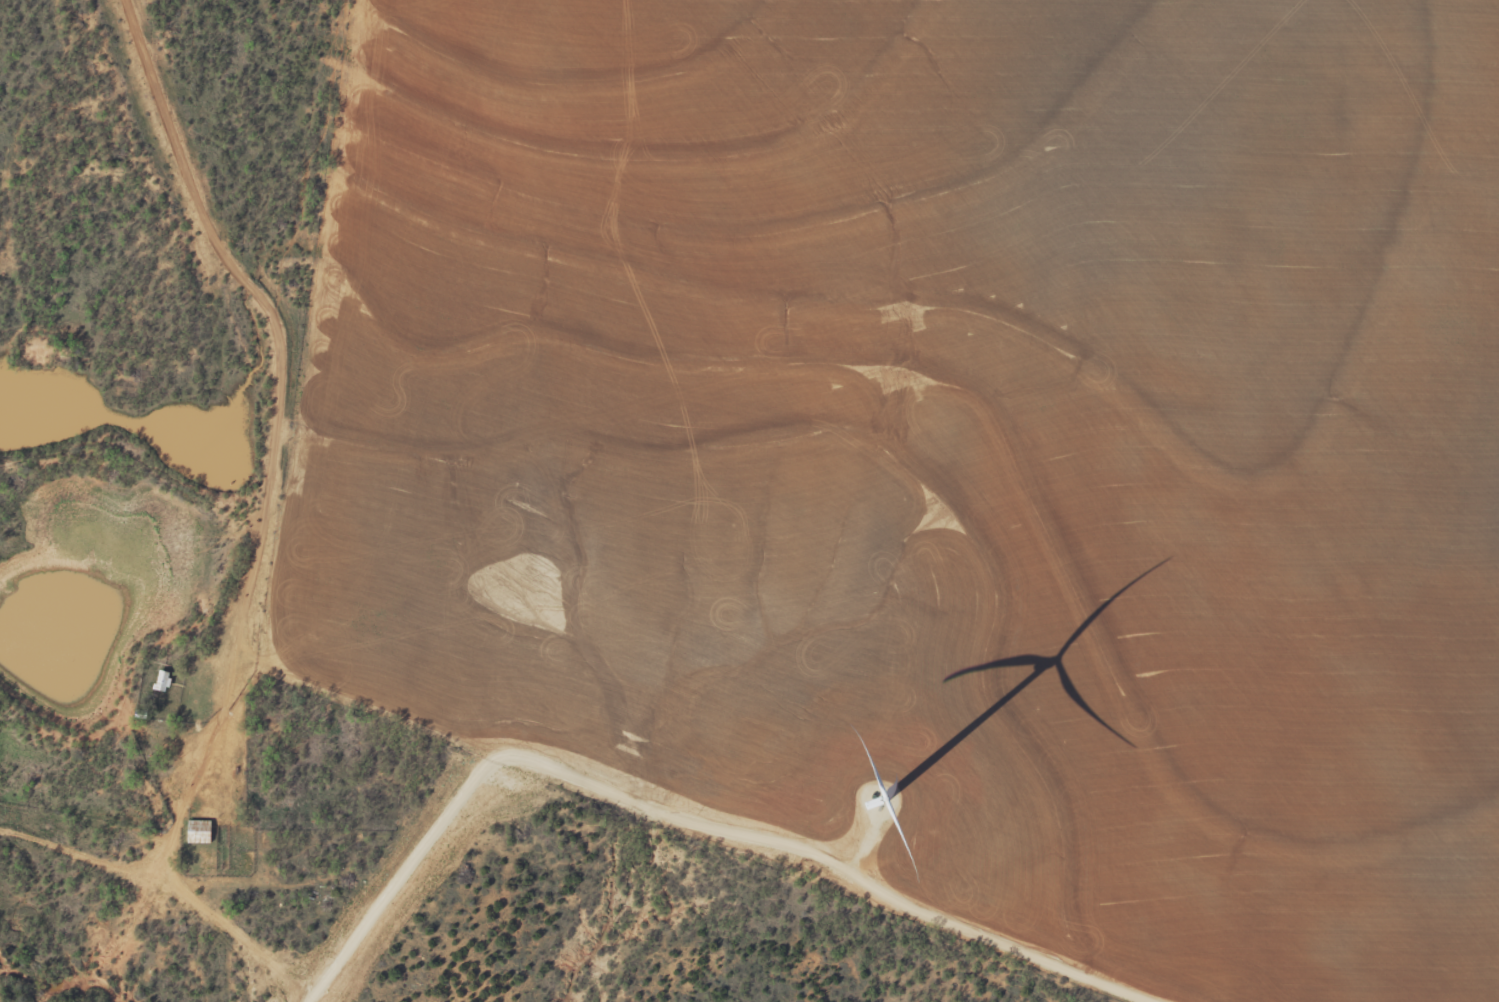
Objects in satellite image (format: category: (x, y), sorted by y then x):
building: (161, 682)
wind turbine: (877, 802)
building: (198, 833)
road: (76, 882)
road: (215, 940)

